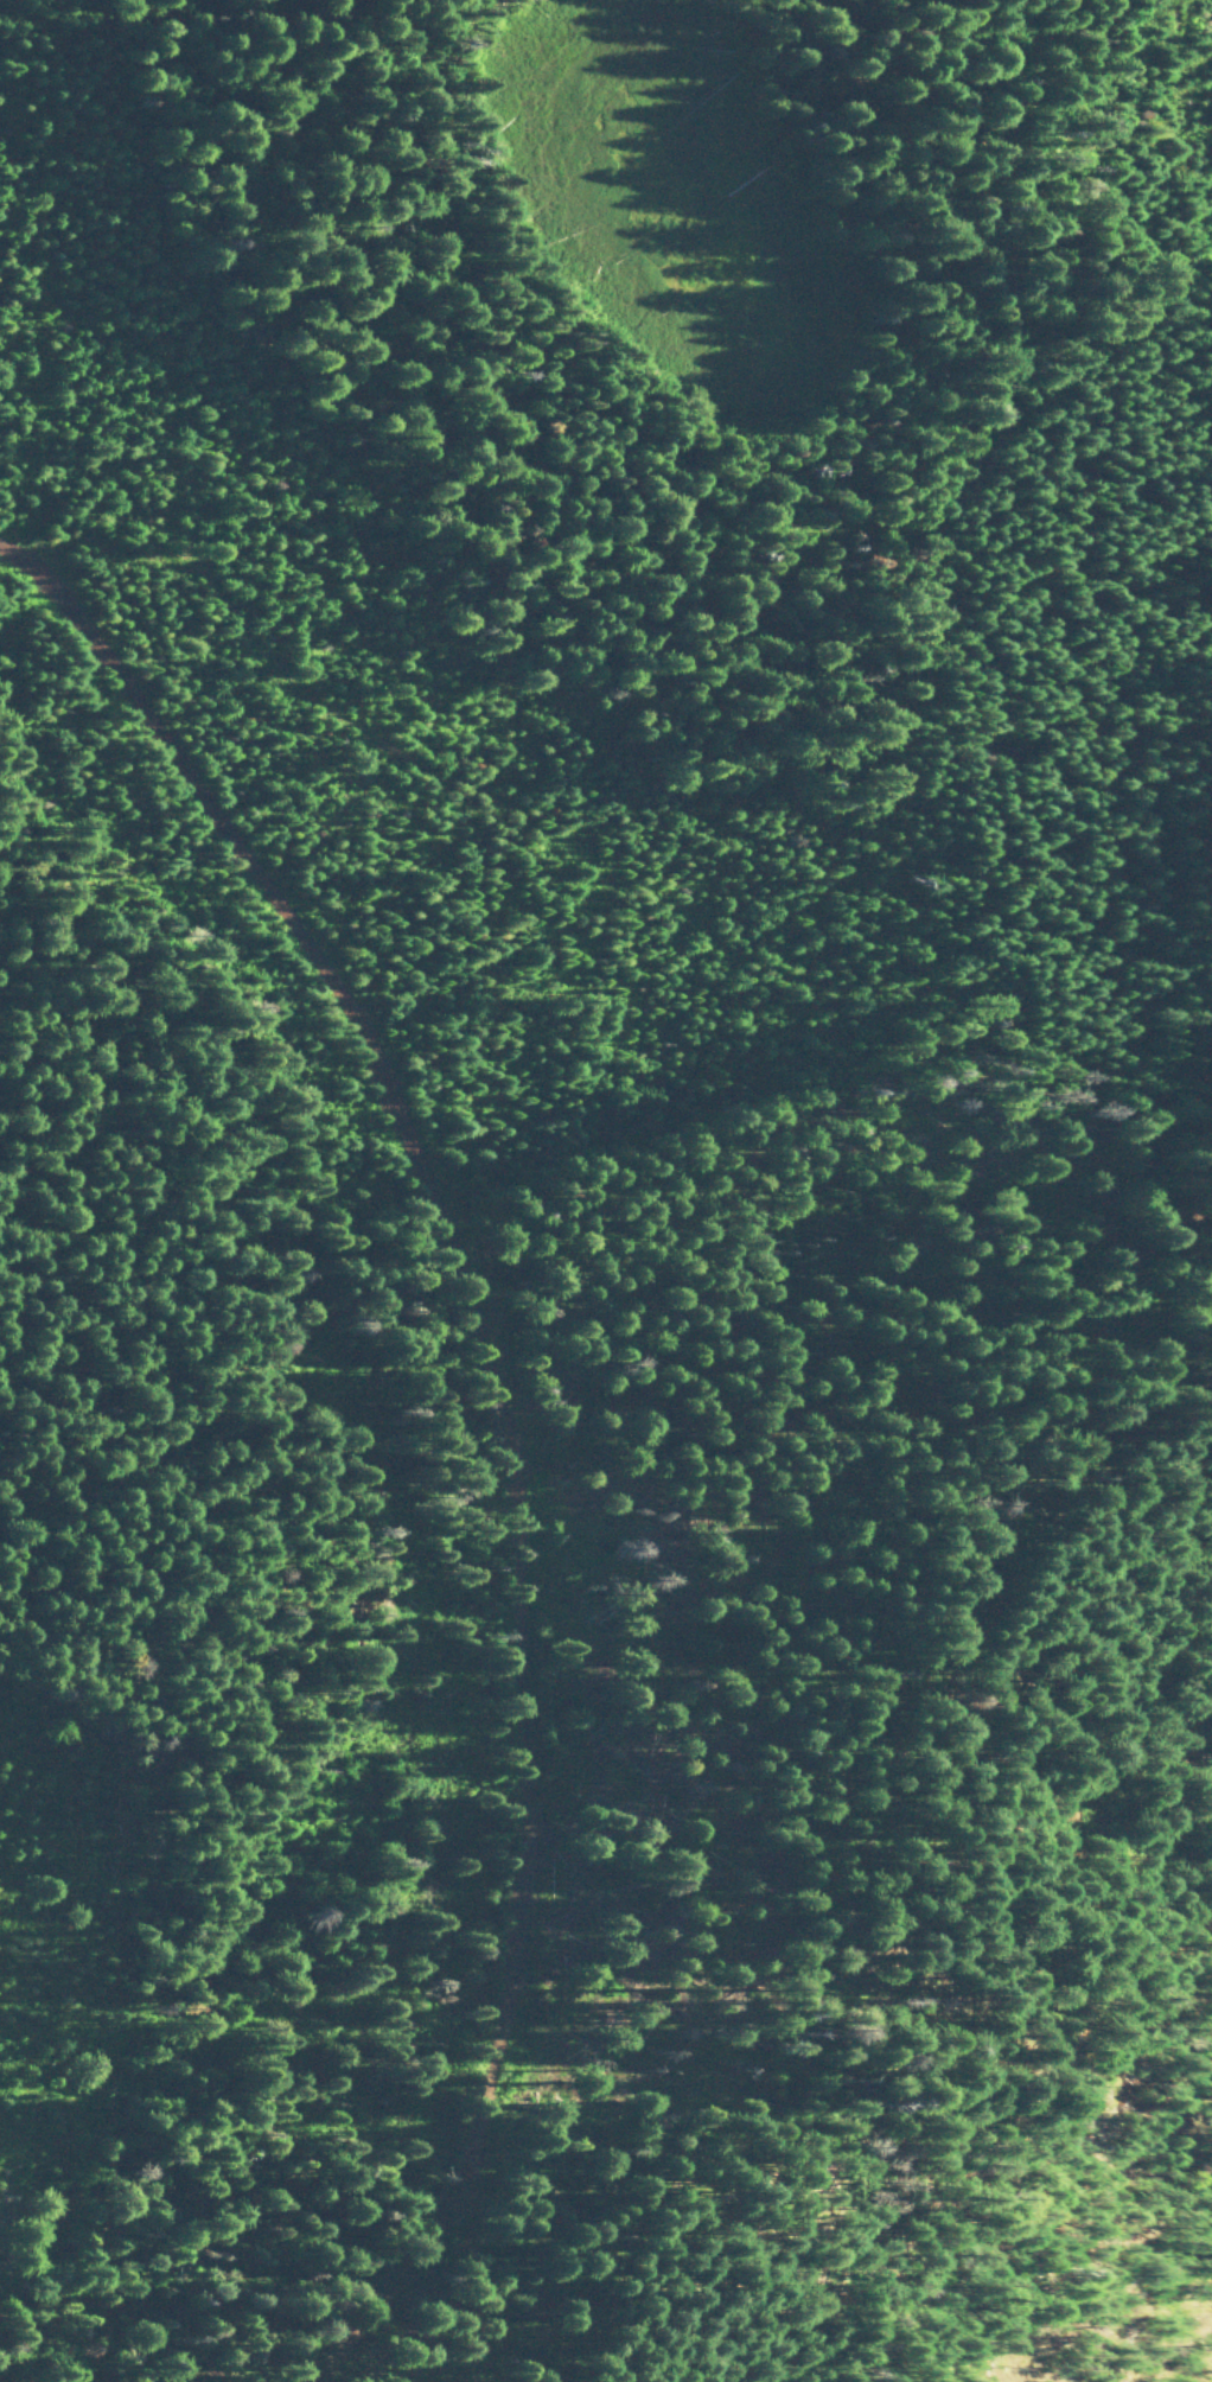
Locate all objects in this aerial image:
road: (496, 1437)

